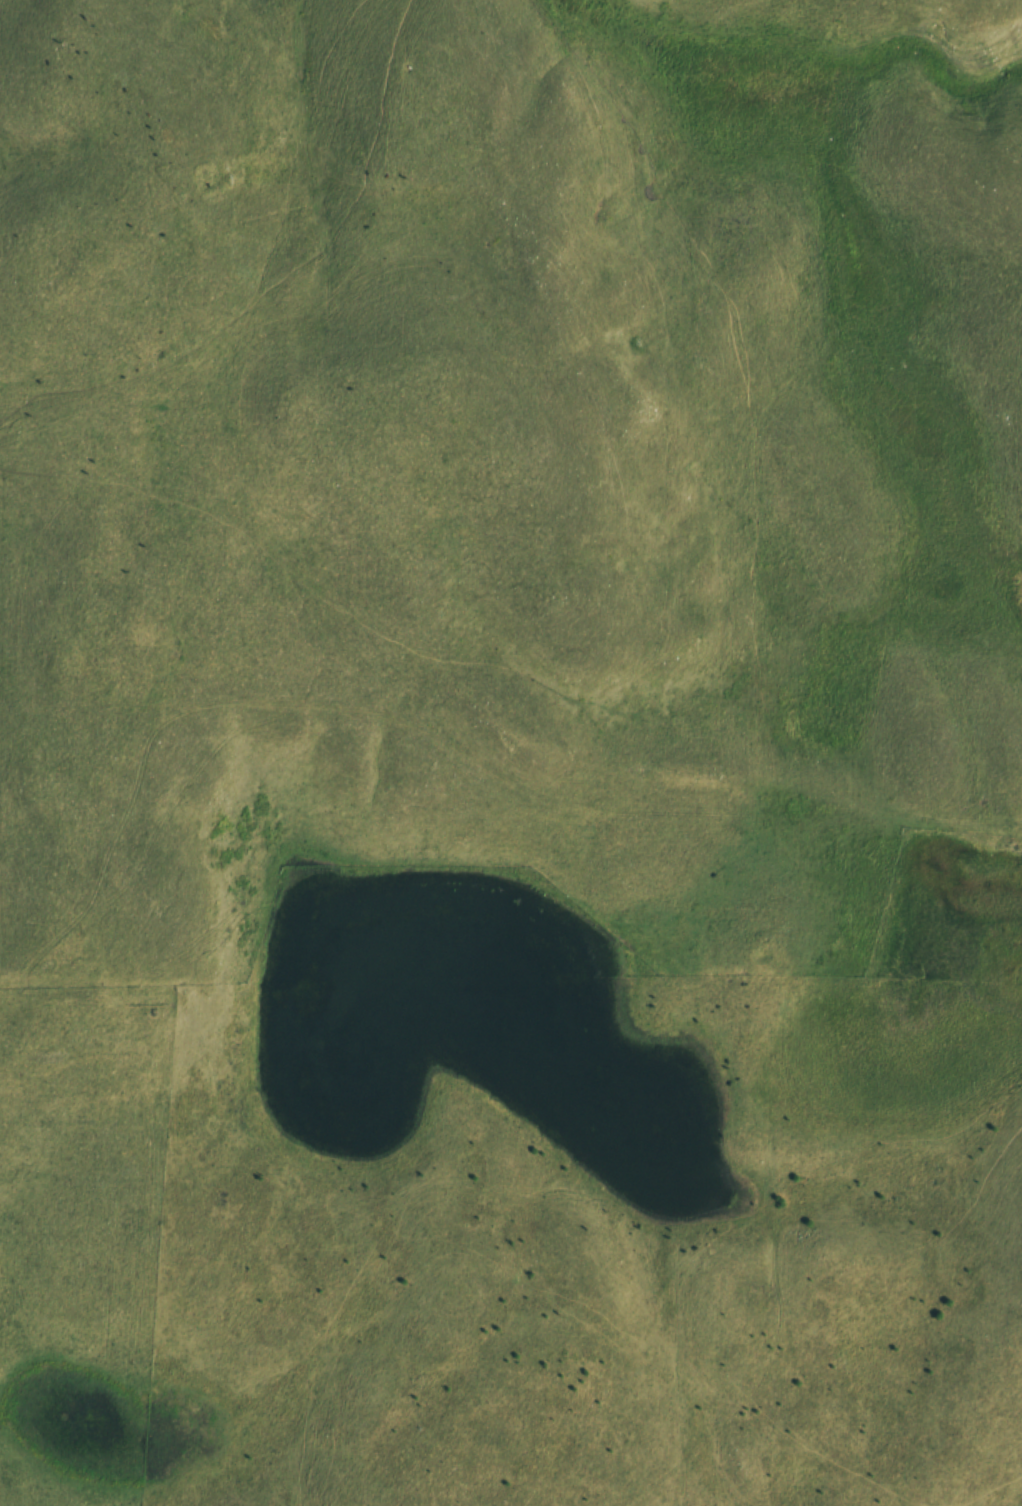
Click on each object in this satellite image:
river: (499, 1035)

